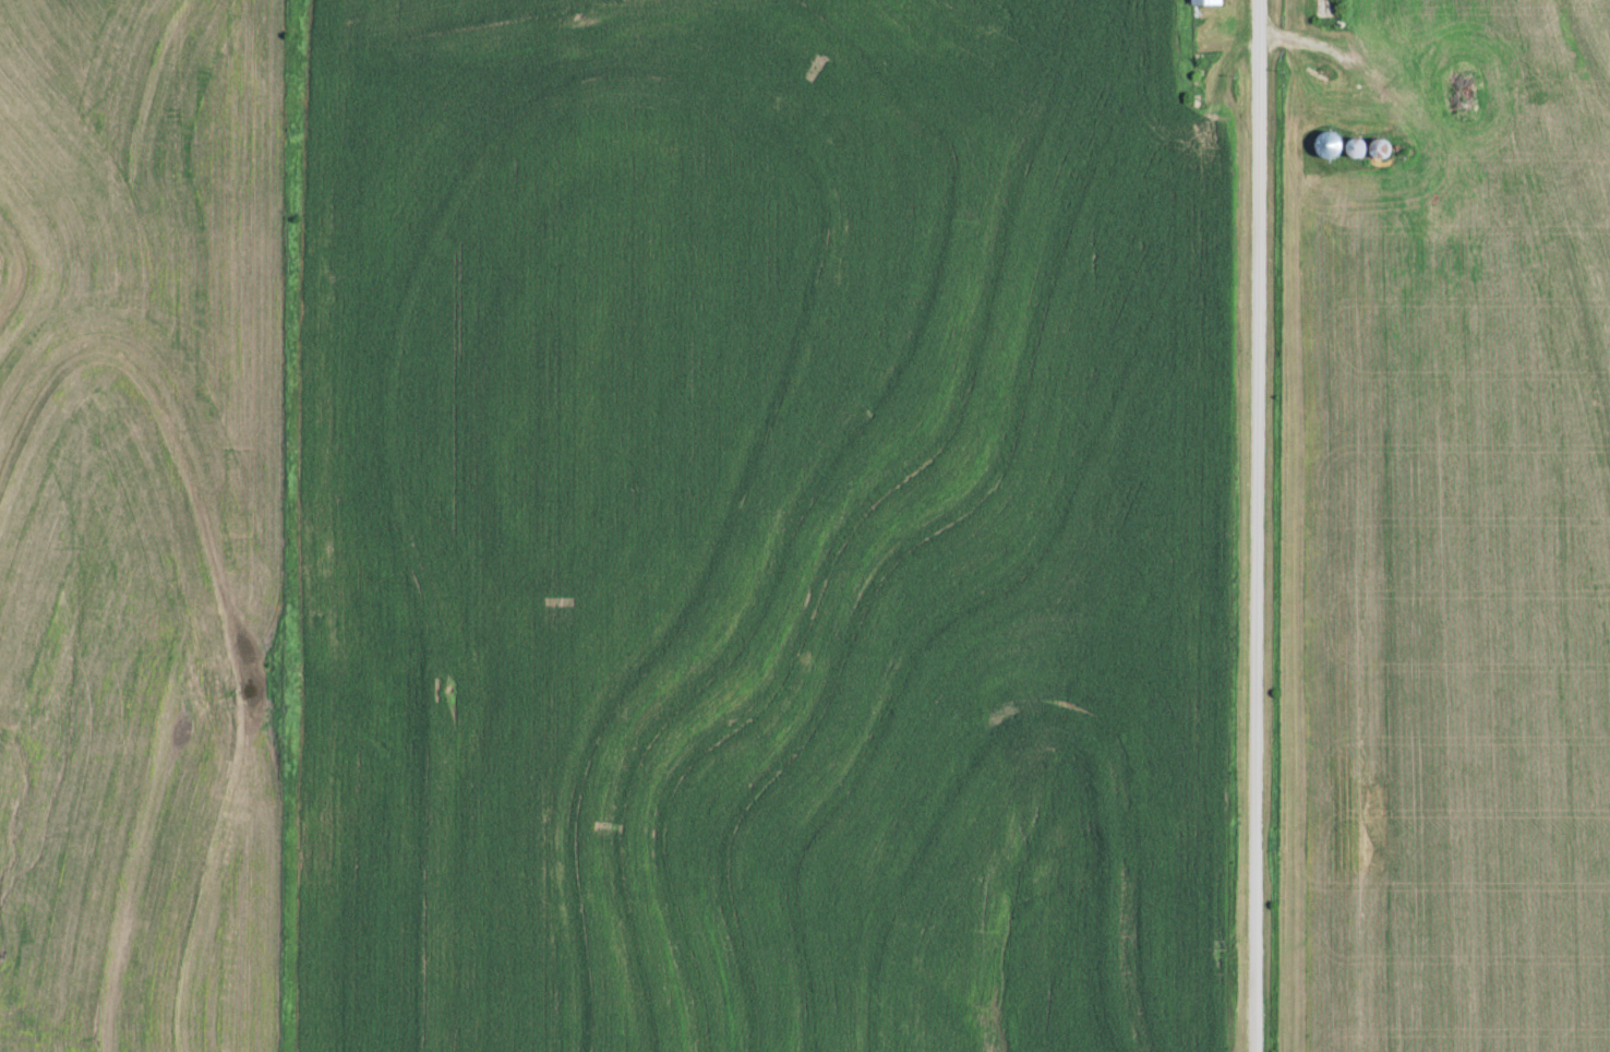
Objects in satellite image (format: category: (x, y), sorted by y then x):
building: (1205, 0)
road: (1257, 526)

